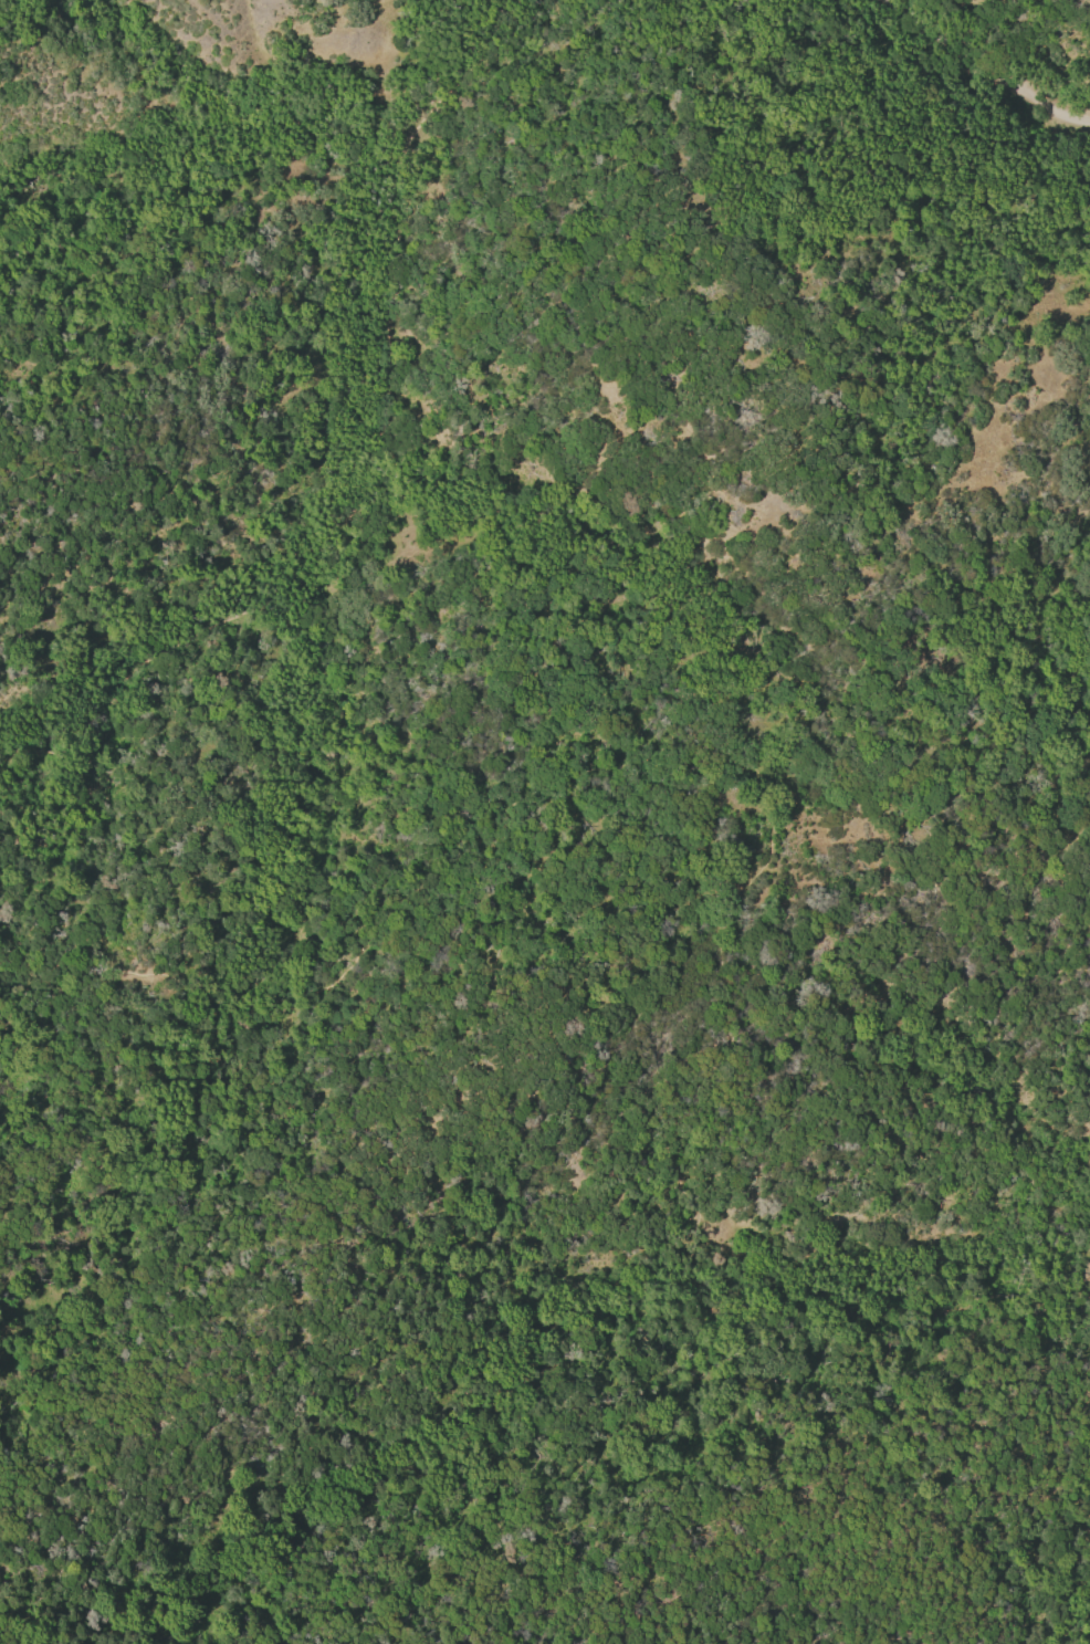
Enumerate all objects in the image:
road: (984, 70)
road: (357, 475)
road: (752, 819)
road: (1082, 1629)

